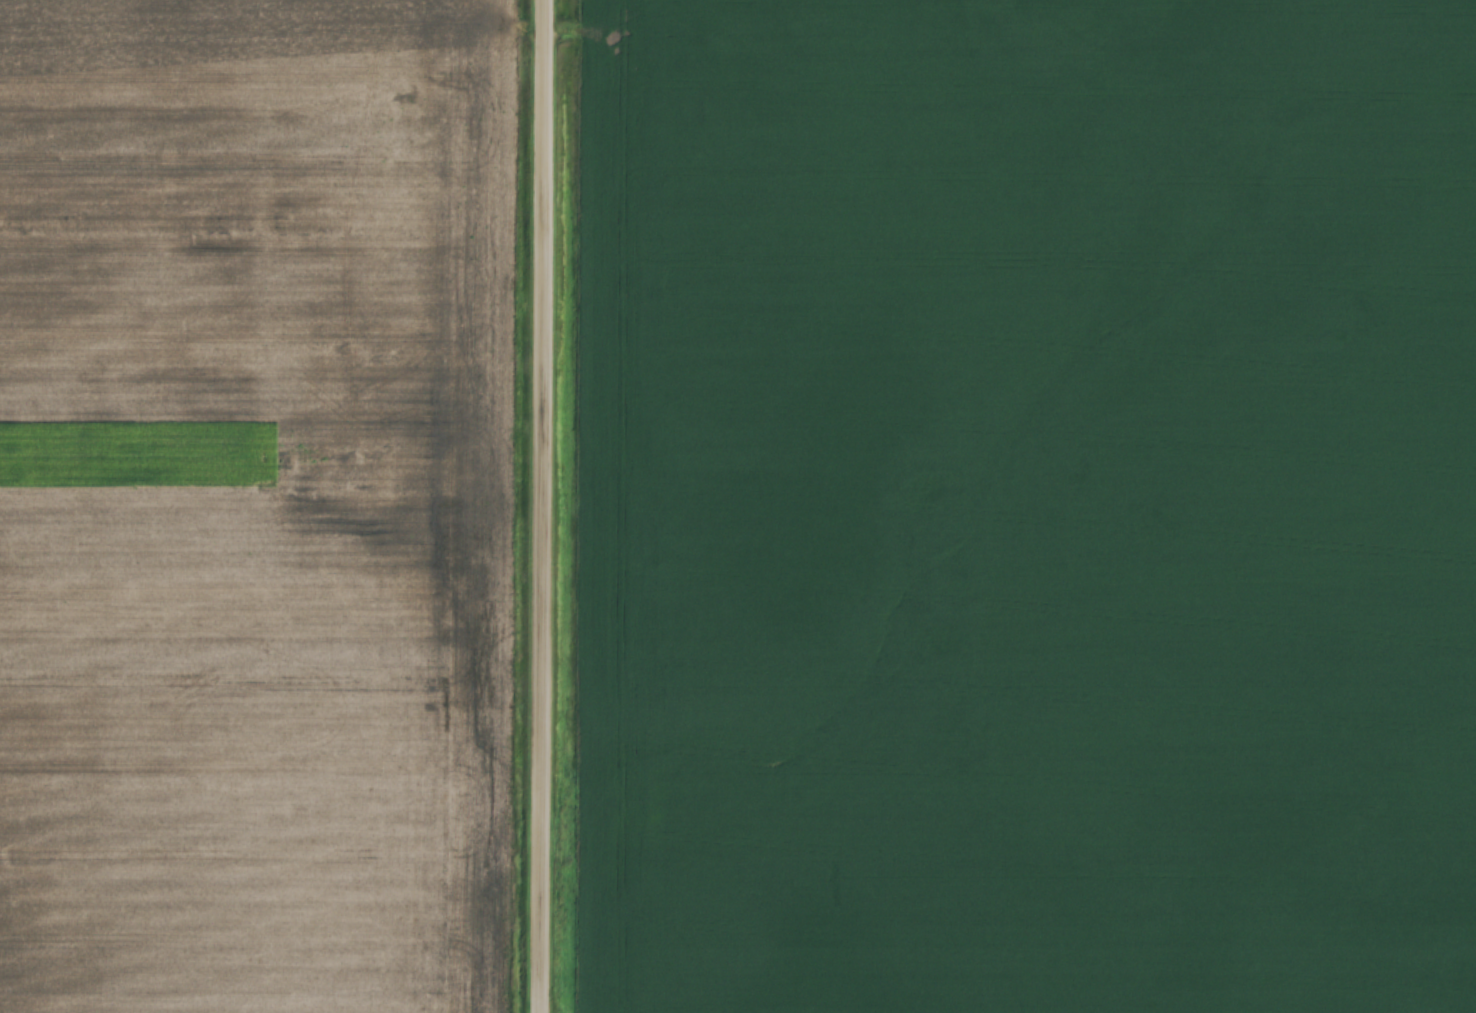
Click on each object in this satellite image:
road: (547, 506)

